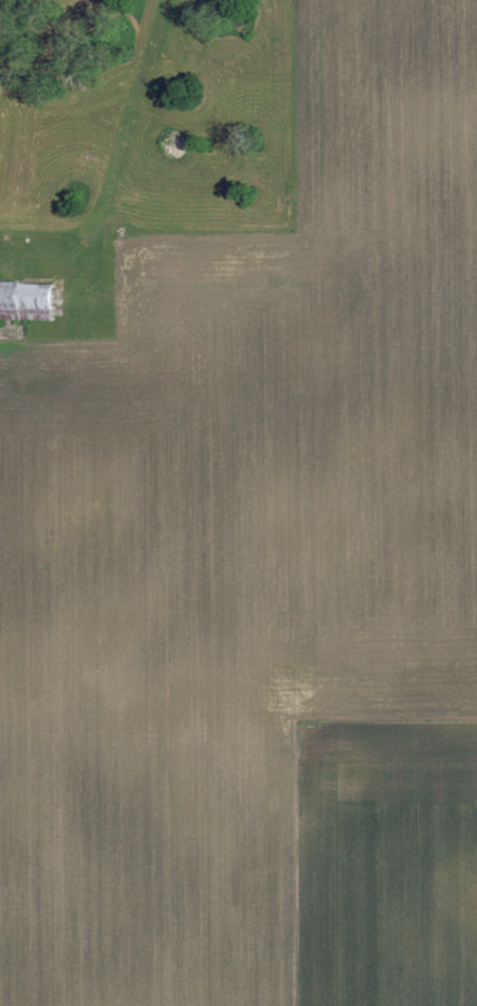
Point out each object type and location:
building: (24, 301)

